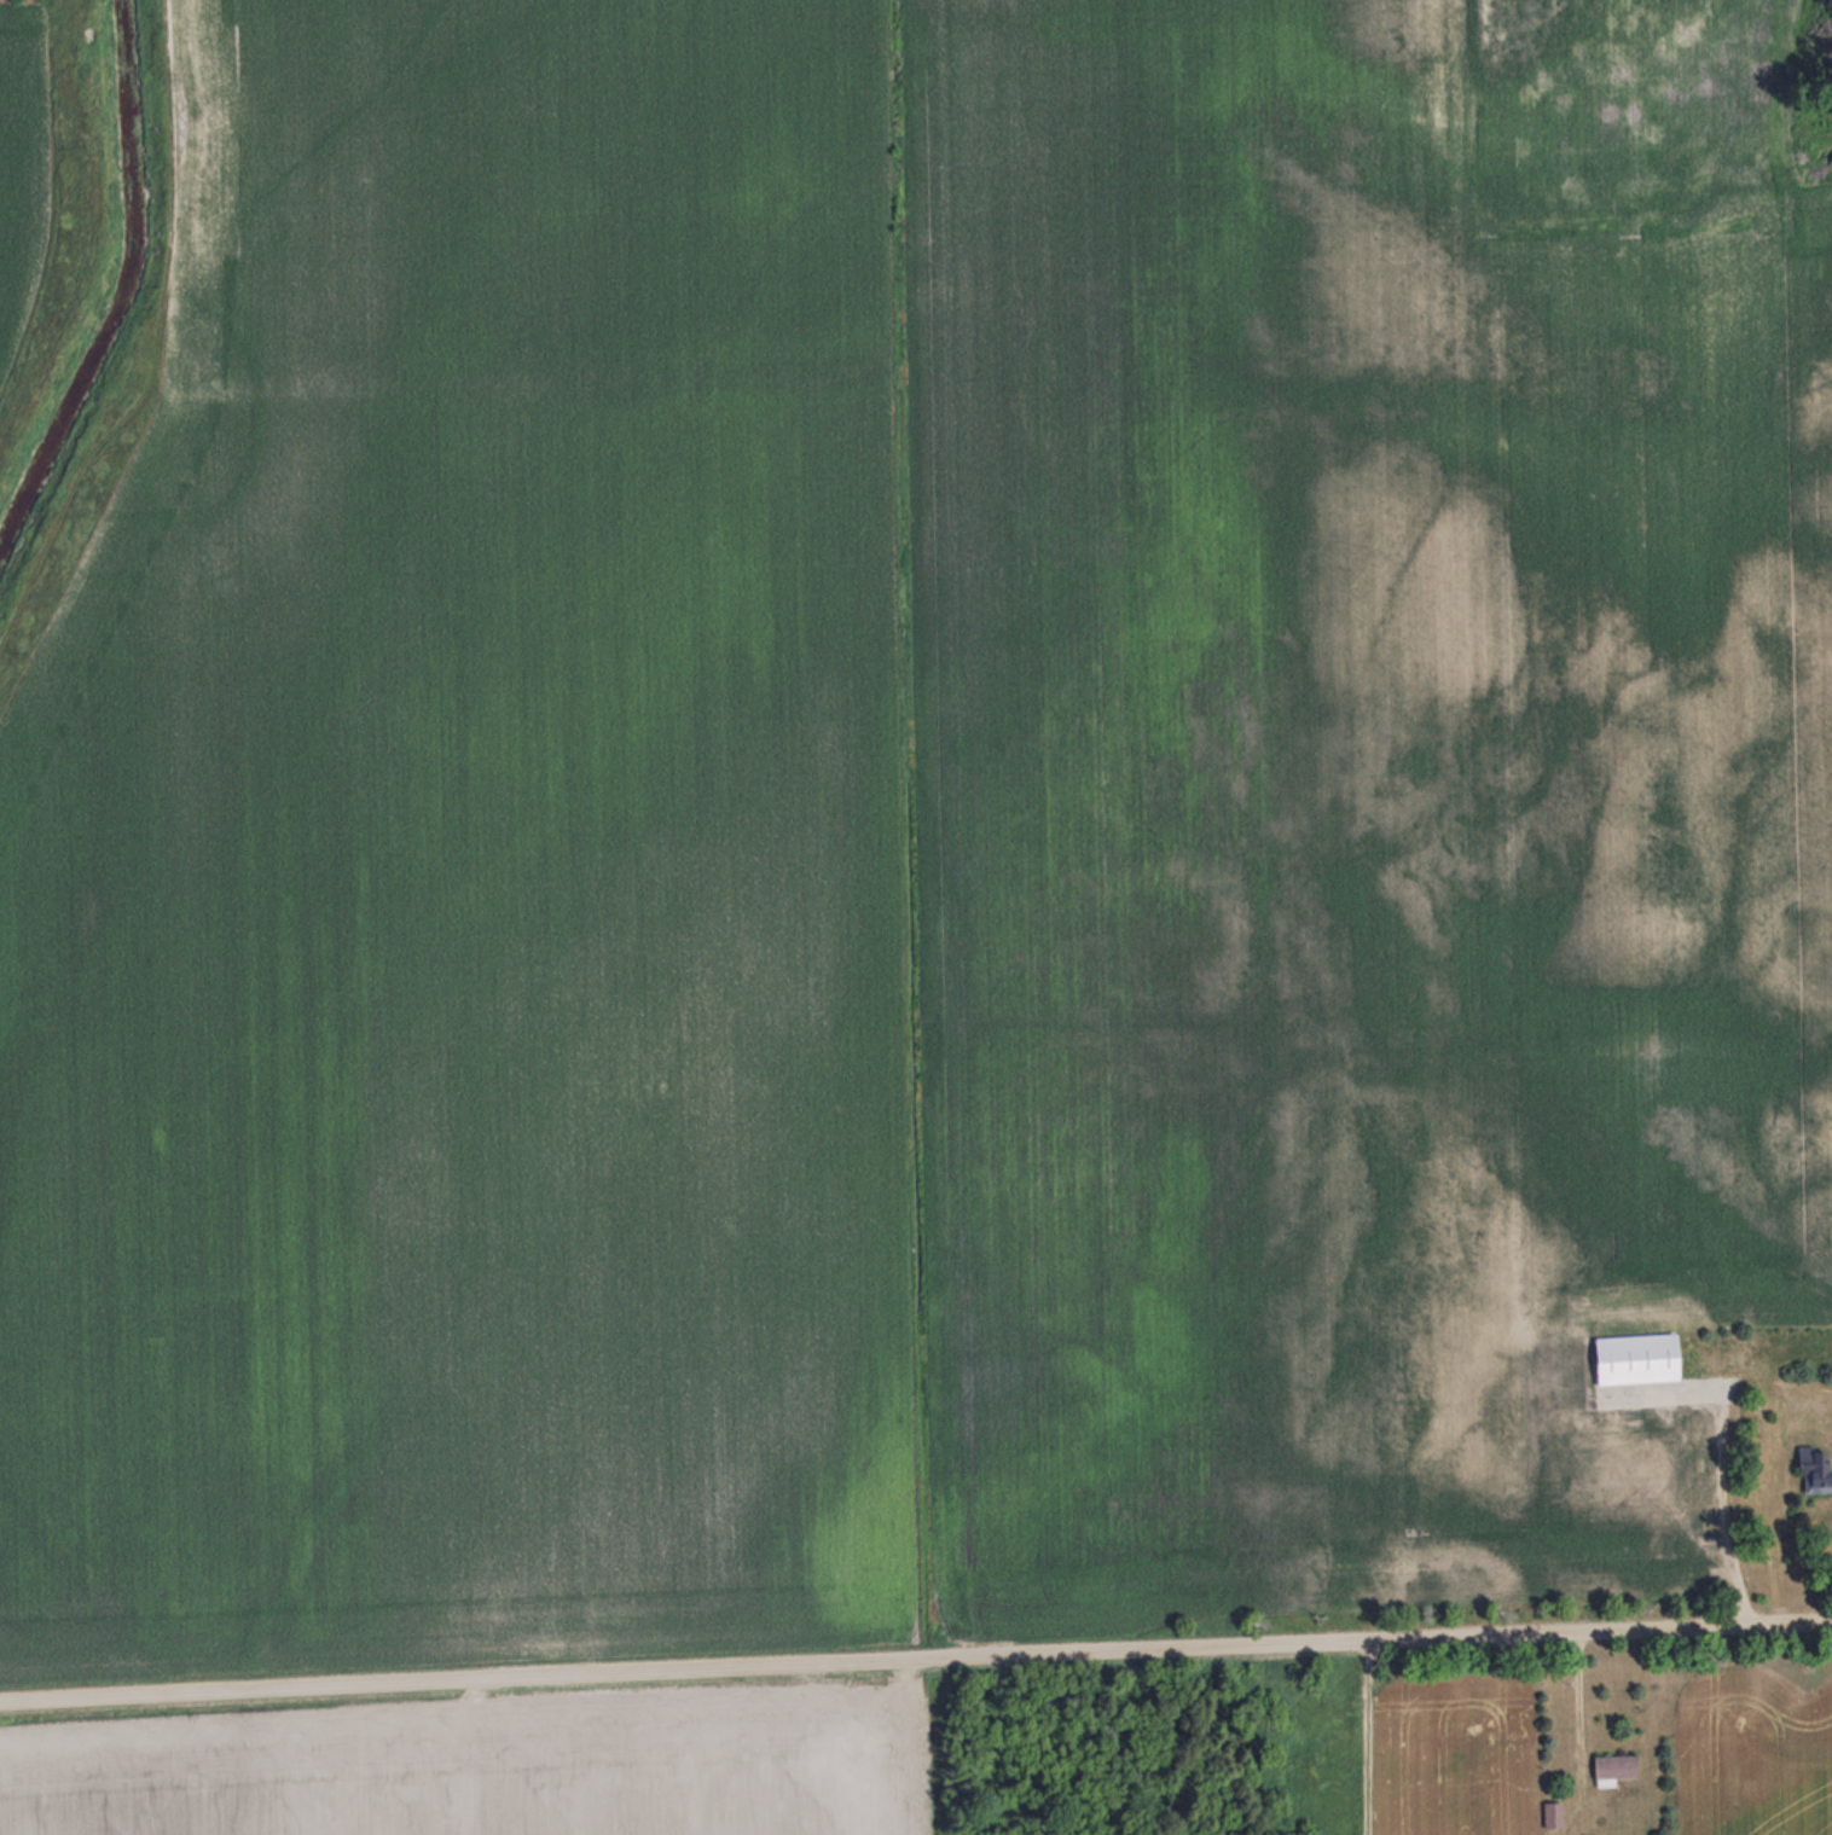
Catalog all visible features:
building: (1635, 1358)
building: (1814, 1469)
road: (916, 1659)
road: (1785, 1726)
building: (1614, 1766)
building: (1552, 1813)

